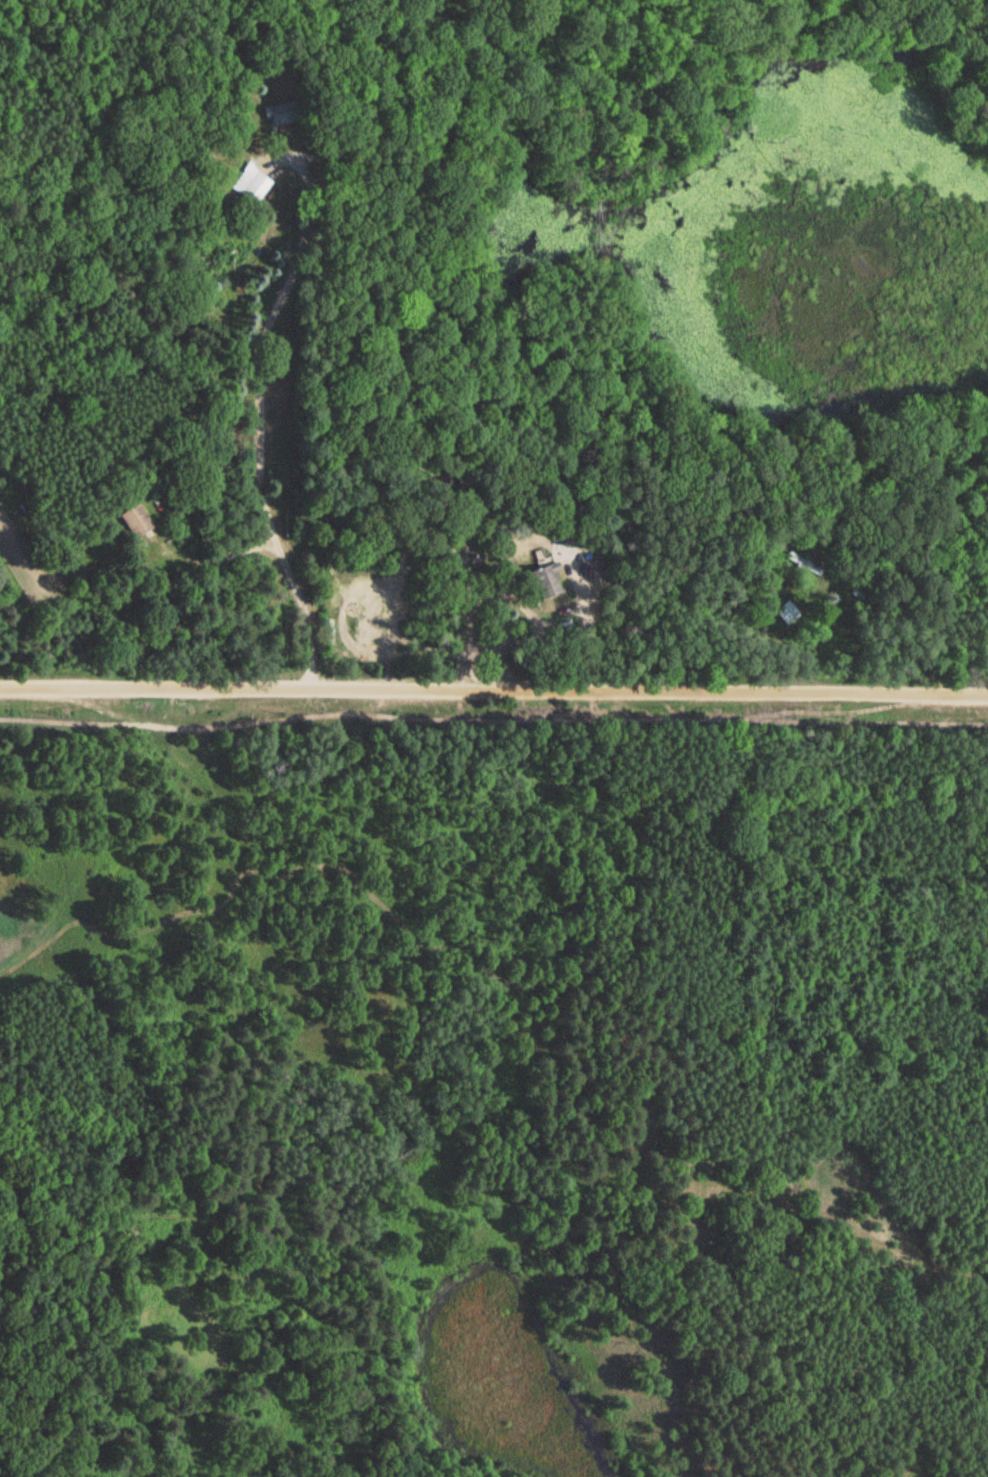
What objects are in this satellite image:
building: (251, 185)
building: (136, 523)
building: (547, 583)
building: (787, 614)
road: (494, 694)

